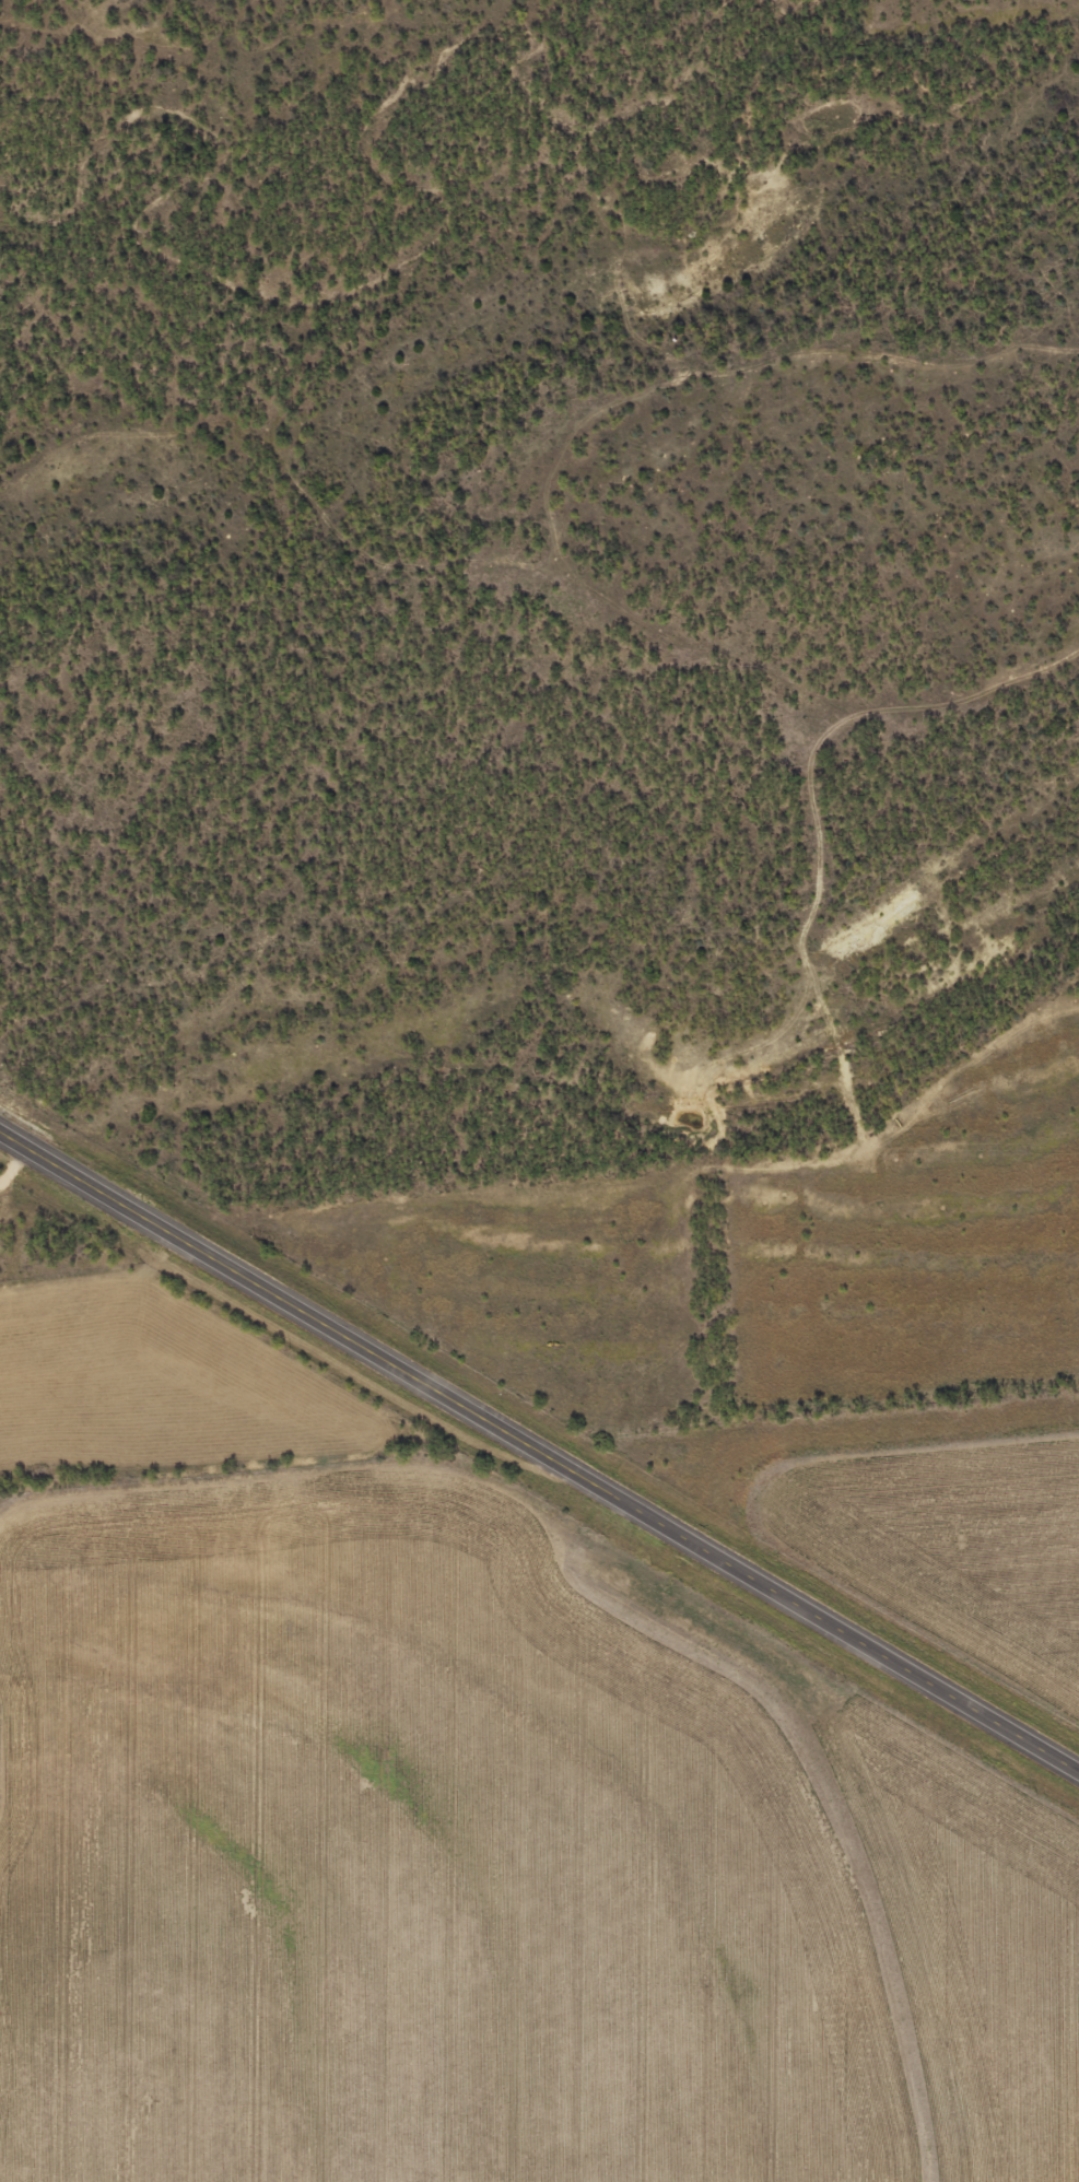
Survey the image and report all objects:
road: (539, 1456)

